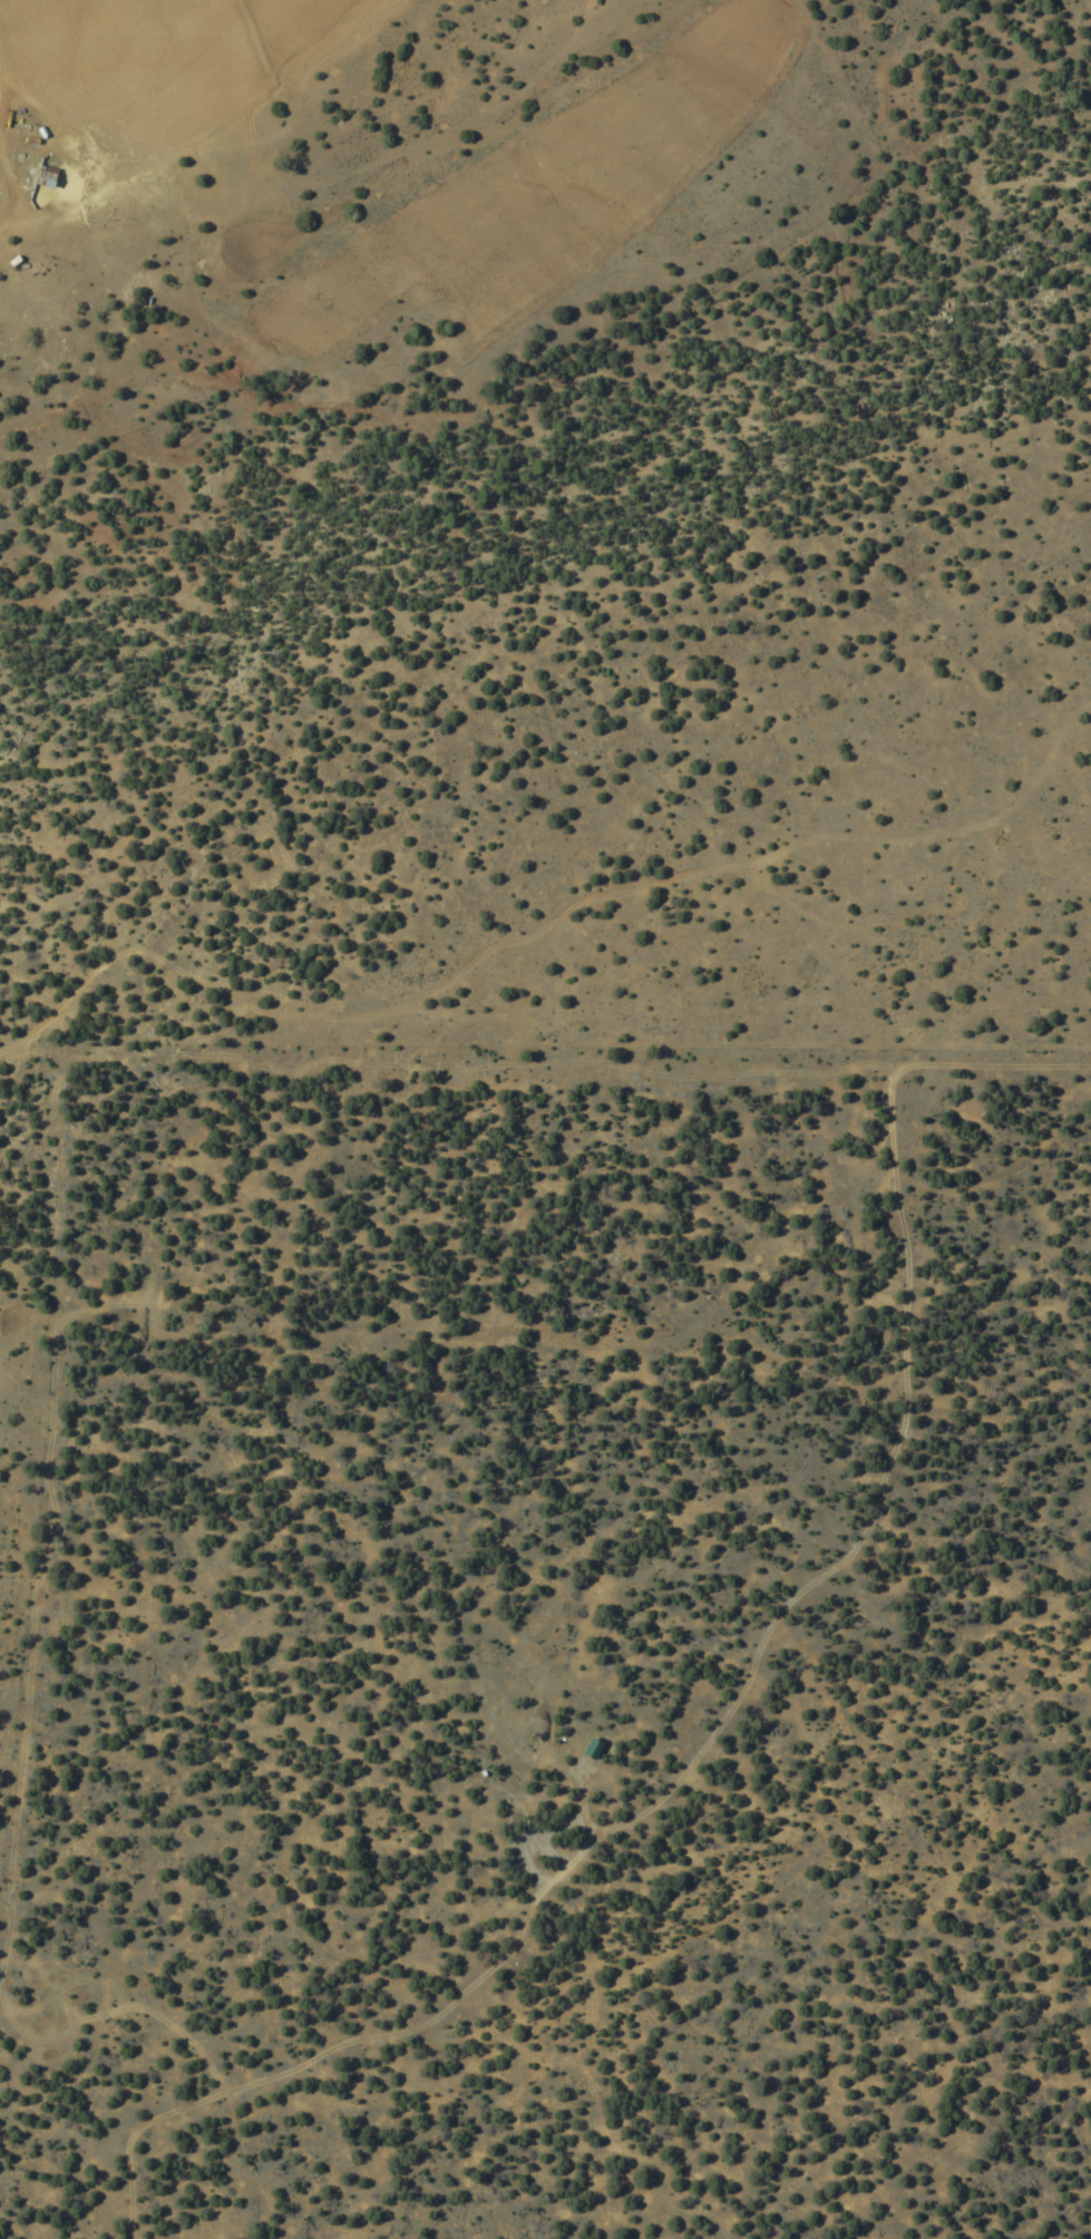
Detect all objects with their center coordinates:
road: (7, 8)
building: (42, 179)

